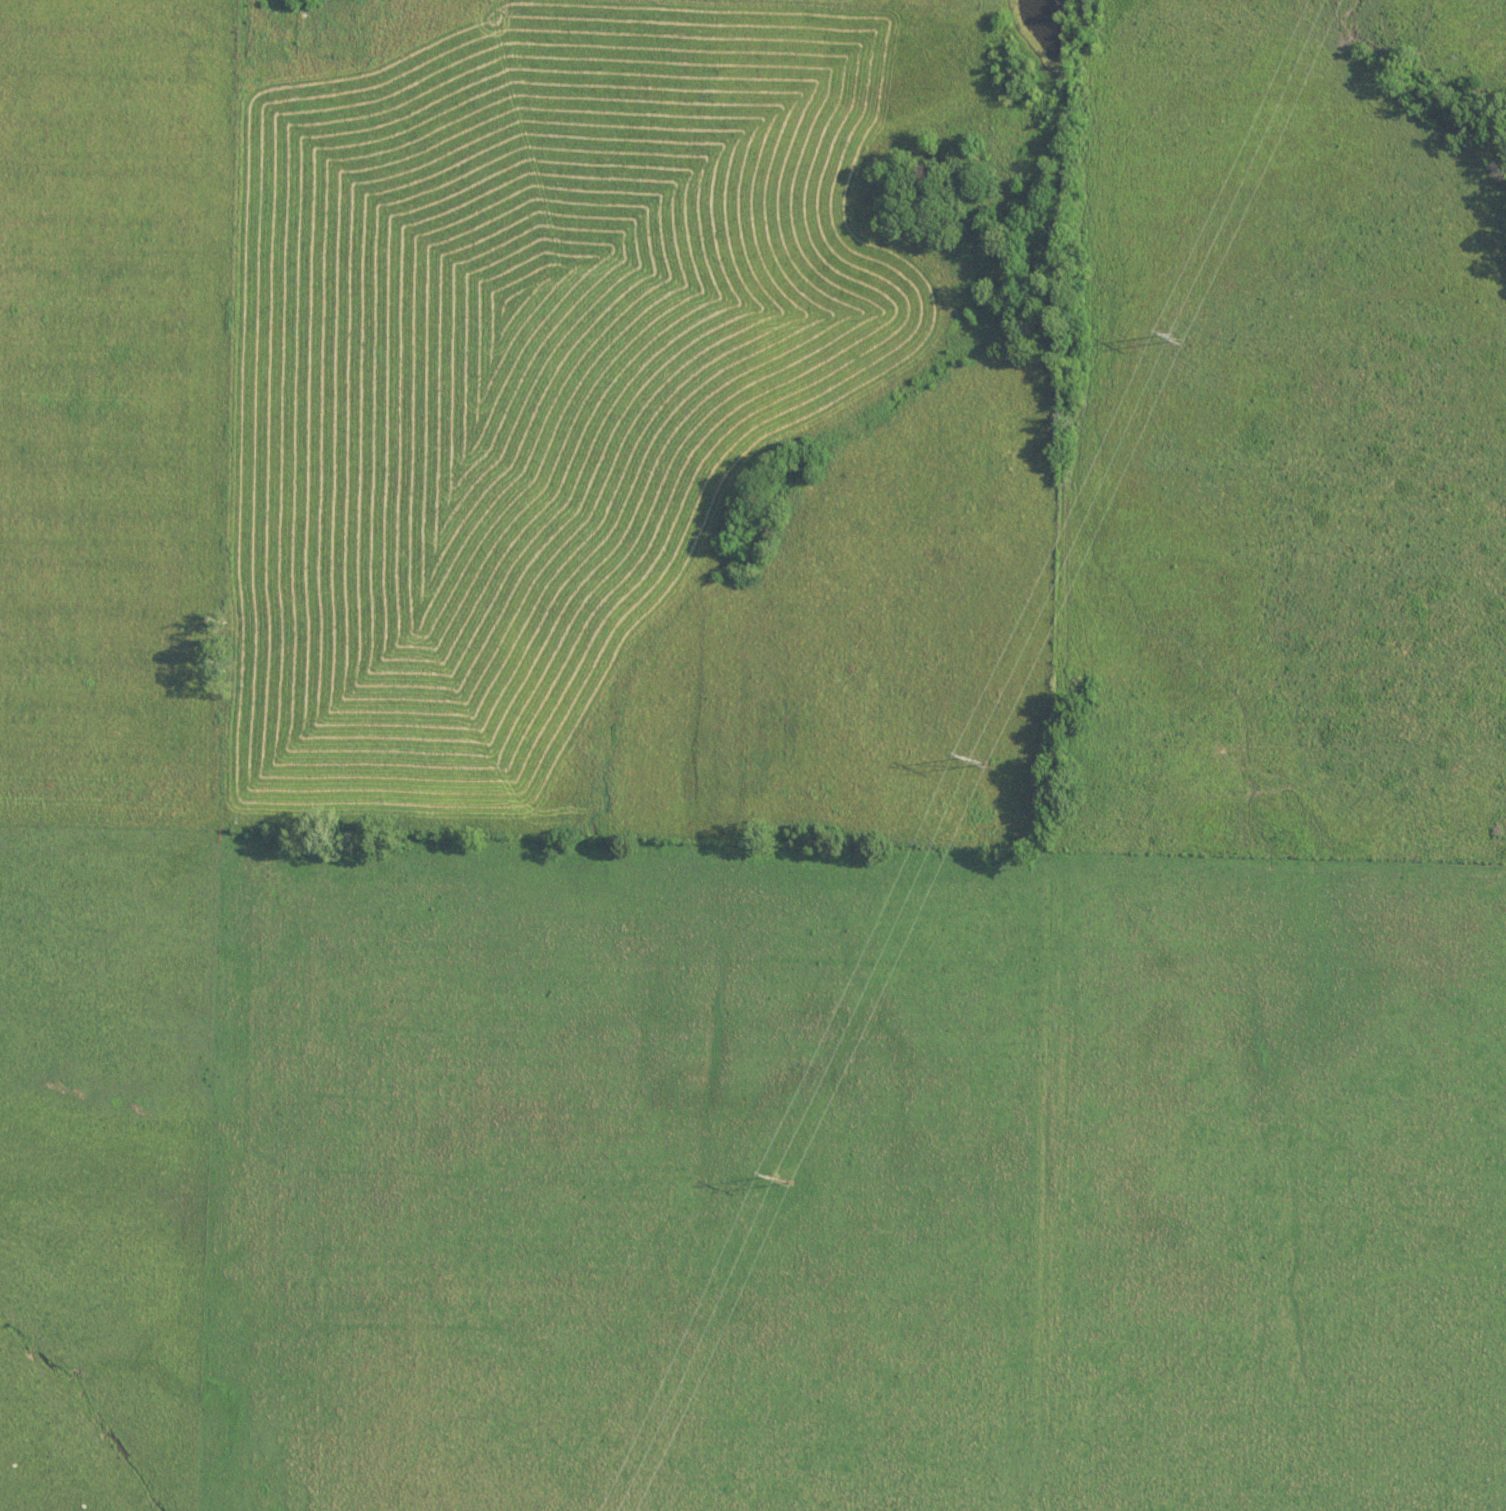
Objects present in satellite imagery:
power tower: (1178, 336)
power tower: (978, 762)
power tower: (784, 1174)

